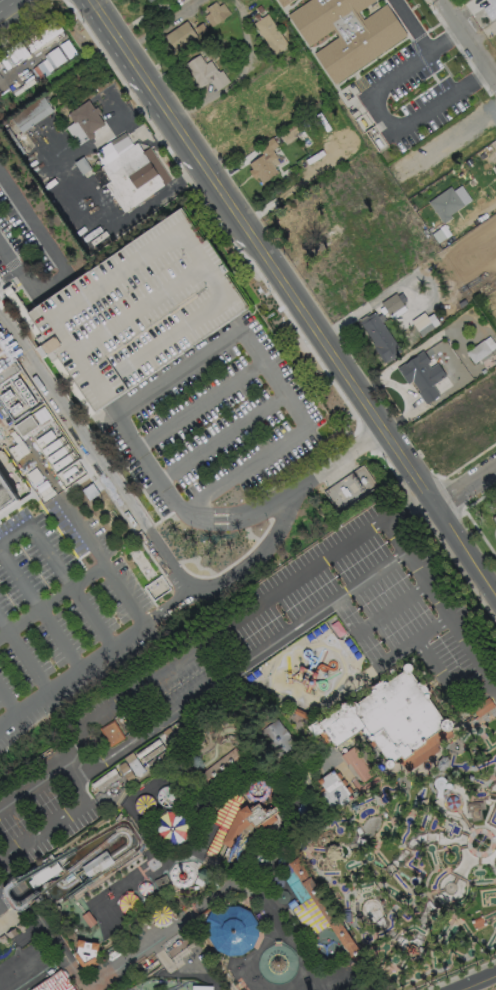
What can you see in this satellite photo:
building: (147, 0)
building: (282, 2)
road: (12, 9)
building: (490, 9)
building: (214, 12)
road: (161, 25)
building: (495, 32)
building: (268, 33)
building: (345, 33)
building: (179, 35)
road: (421, 41)
road: (468, 41)
building: (203, 72)
road: (240, 75)
parking lot: (412, 95)
building: (29, 114)
building: (84, 118)
road: (390, 130)
road: (109, 131)
road: (452, 139)
building: (263, 161)
building: (494, 167)
building: (127, 171)
building: (444, 203)
road: (105, 230)
road: (41, 240)
road: (261, 252)
road: (202, 268)
road: (19, 270)
road: (395, 287)
road: (143, 302)
building: (393, 305)
road: (411, 311)
building: (138, 315)
parking lot: (138, 315)
building: (421, 324)
road: (480, 332)
building: (379, 337)
building: (477, 352)
road: (409, 354)
road: (462, 357)
building: (483, 371)
building: (420, 375)
road: (272, 377)
road: (404, 391)
road: (201, 403)
parking lot: (218, 422)
building: (28, 432)
road: (223, 435)
road: (93, 459)
road: (464, 485)
building: (349, 487)
street lamp: (474, 496)
road: (229, 517)
road: (468, 517)
building: (494, 518)
building: (495, 527)
road: (14, 533)
road: (494, 533)
road: (393, 536)
road: (464, 551)
road: (95, 557)
road: (84, 575)
road: (235, 576)
road: (69, 586)
building: (156, 587)
road: (392, 607)
road: (34, 608)
road: (40, 612)
road: (307, 618)
parking lot: (63, 619)
road: (238, 619)
road: (431, 627)
road: (395, 652)
road: (24, 659)
road: (437, 672)
road: (69, 679)
road: (477, 694)
parking lot: (147, 700)
road: (10, 702)
railway: (214, 704)
building: (483, 709)
building: (390, 721)
building: (110, 735)
road: (83, 739)
building: (275, 740)
building: (147, 748)
road: (424, 750)
building: (152, 753)
building: (156, 758)
building: (133, 763)
railway: (282, 763)
road: (340, 765)
building: (359, 765)
road: (76, 767)
building: (220, 767)
building: (125, 771)
building: (105, 779)
road: (36, 784)
road: (223, 789)
theme park: (274, 791)
building: (333, 791)
road: (93, 804)
building: (302, 809)
road: (148, 816)
building: (223, 820)
railway: (236, 820)
building: (248, 821)
road: (54, 822)
road: (198, 859)
fountain: (259, 859)
railway: (39, 870)
building: (40, 872)
road: (10, 877)
building: (275, 882)
building: (161, 883)
railway: (205, 884)
road: (231, 891)
building: (281, 896)
road: (10, 898)
road: (4, 901)
railway: (180, 901)
building: (319, 906)
building: (204, 913)
railway: (327, 914)
railway: (53, 916)
building: (88, 918)
road: (7, 919)
road: (3, 928)
building: (231, 930)
building: (10, 932)
road: (10, 933)
road: (277, 941)
road: (54, 944)
railway: (86, 946)
building: (85, 952)
building: (36, 953)
road: (179, 968)
building: (10, 975)
railway: (368, 978)
road: (327, 981)
road: (475, 981)
building: (53, 982)
road: (243, 986)
building: (201, 987)

